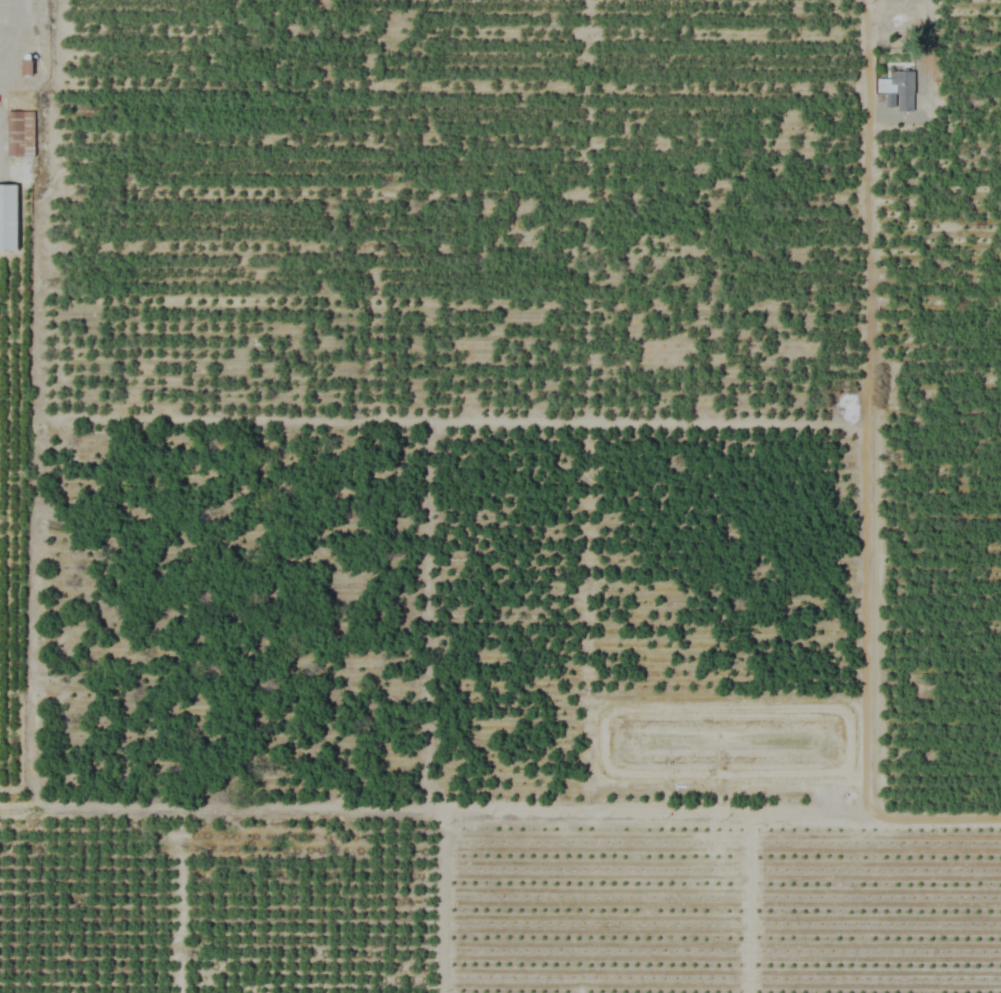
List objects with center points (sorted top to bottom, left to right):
road: (924, 48)
building: (902, 90)
building: (20, 133)
building: (9, 217)

